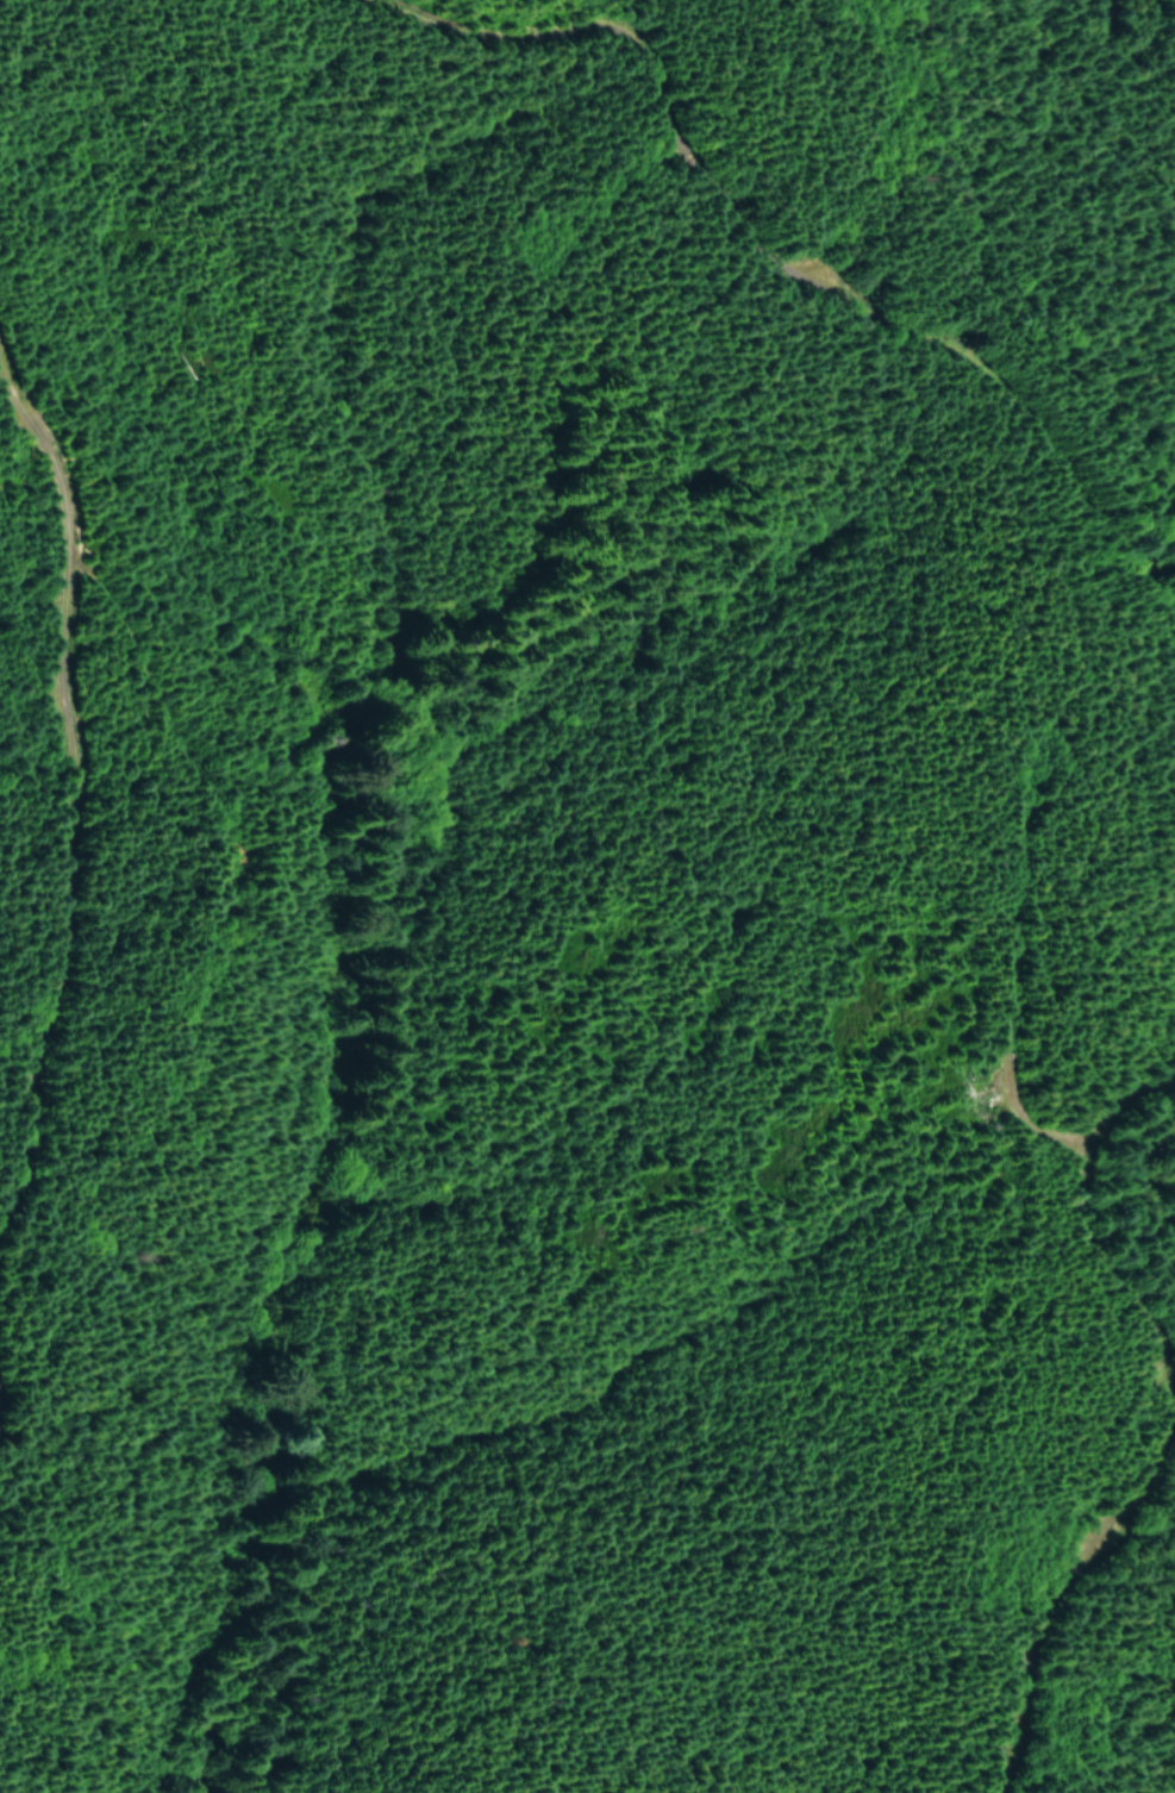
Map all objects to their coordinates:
road: (890, 252)

